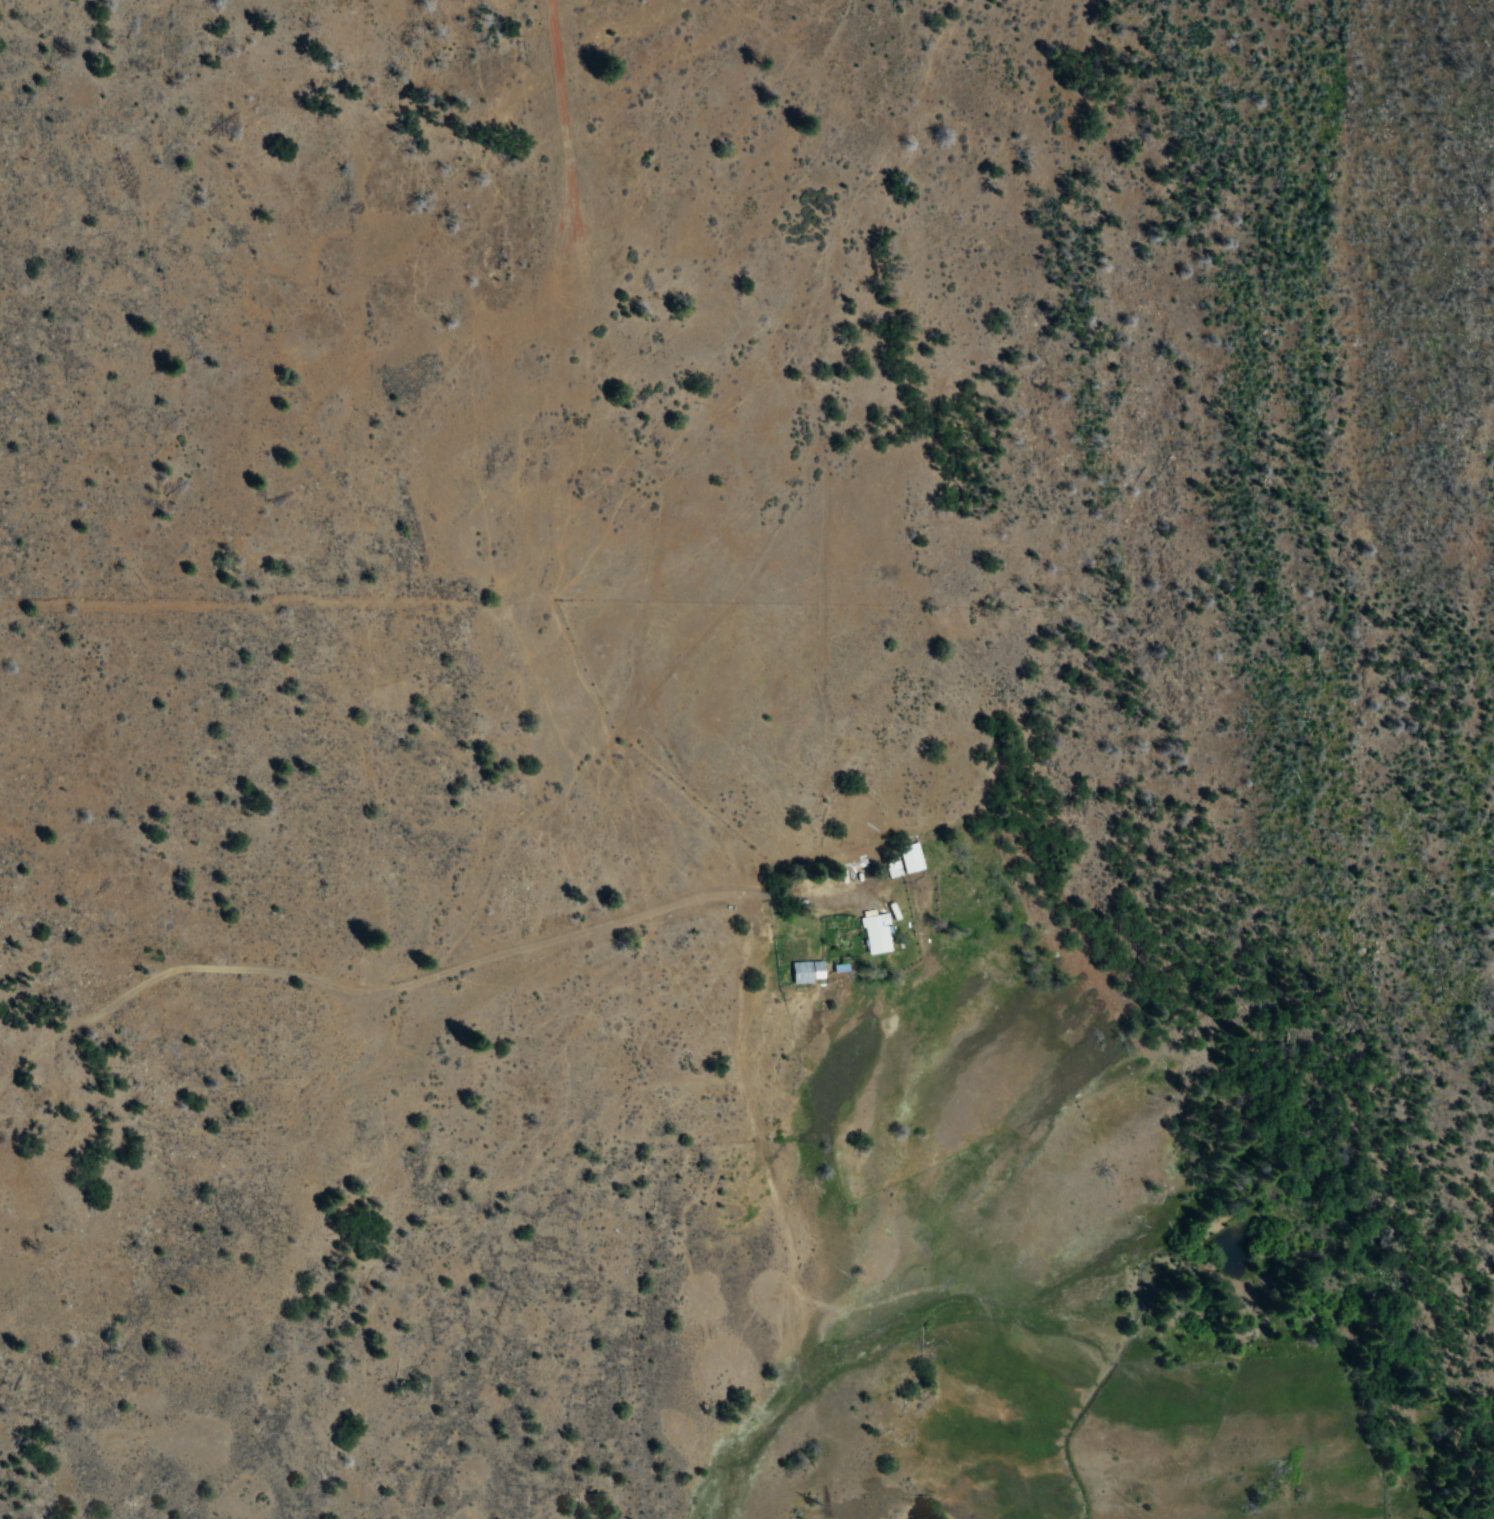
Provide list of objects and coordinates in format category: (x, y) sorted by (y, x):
road: (413, 603)

